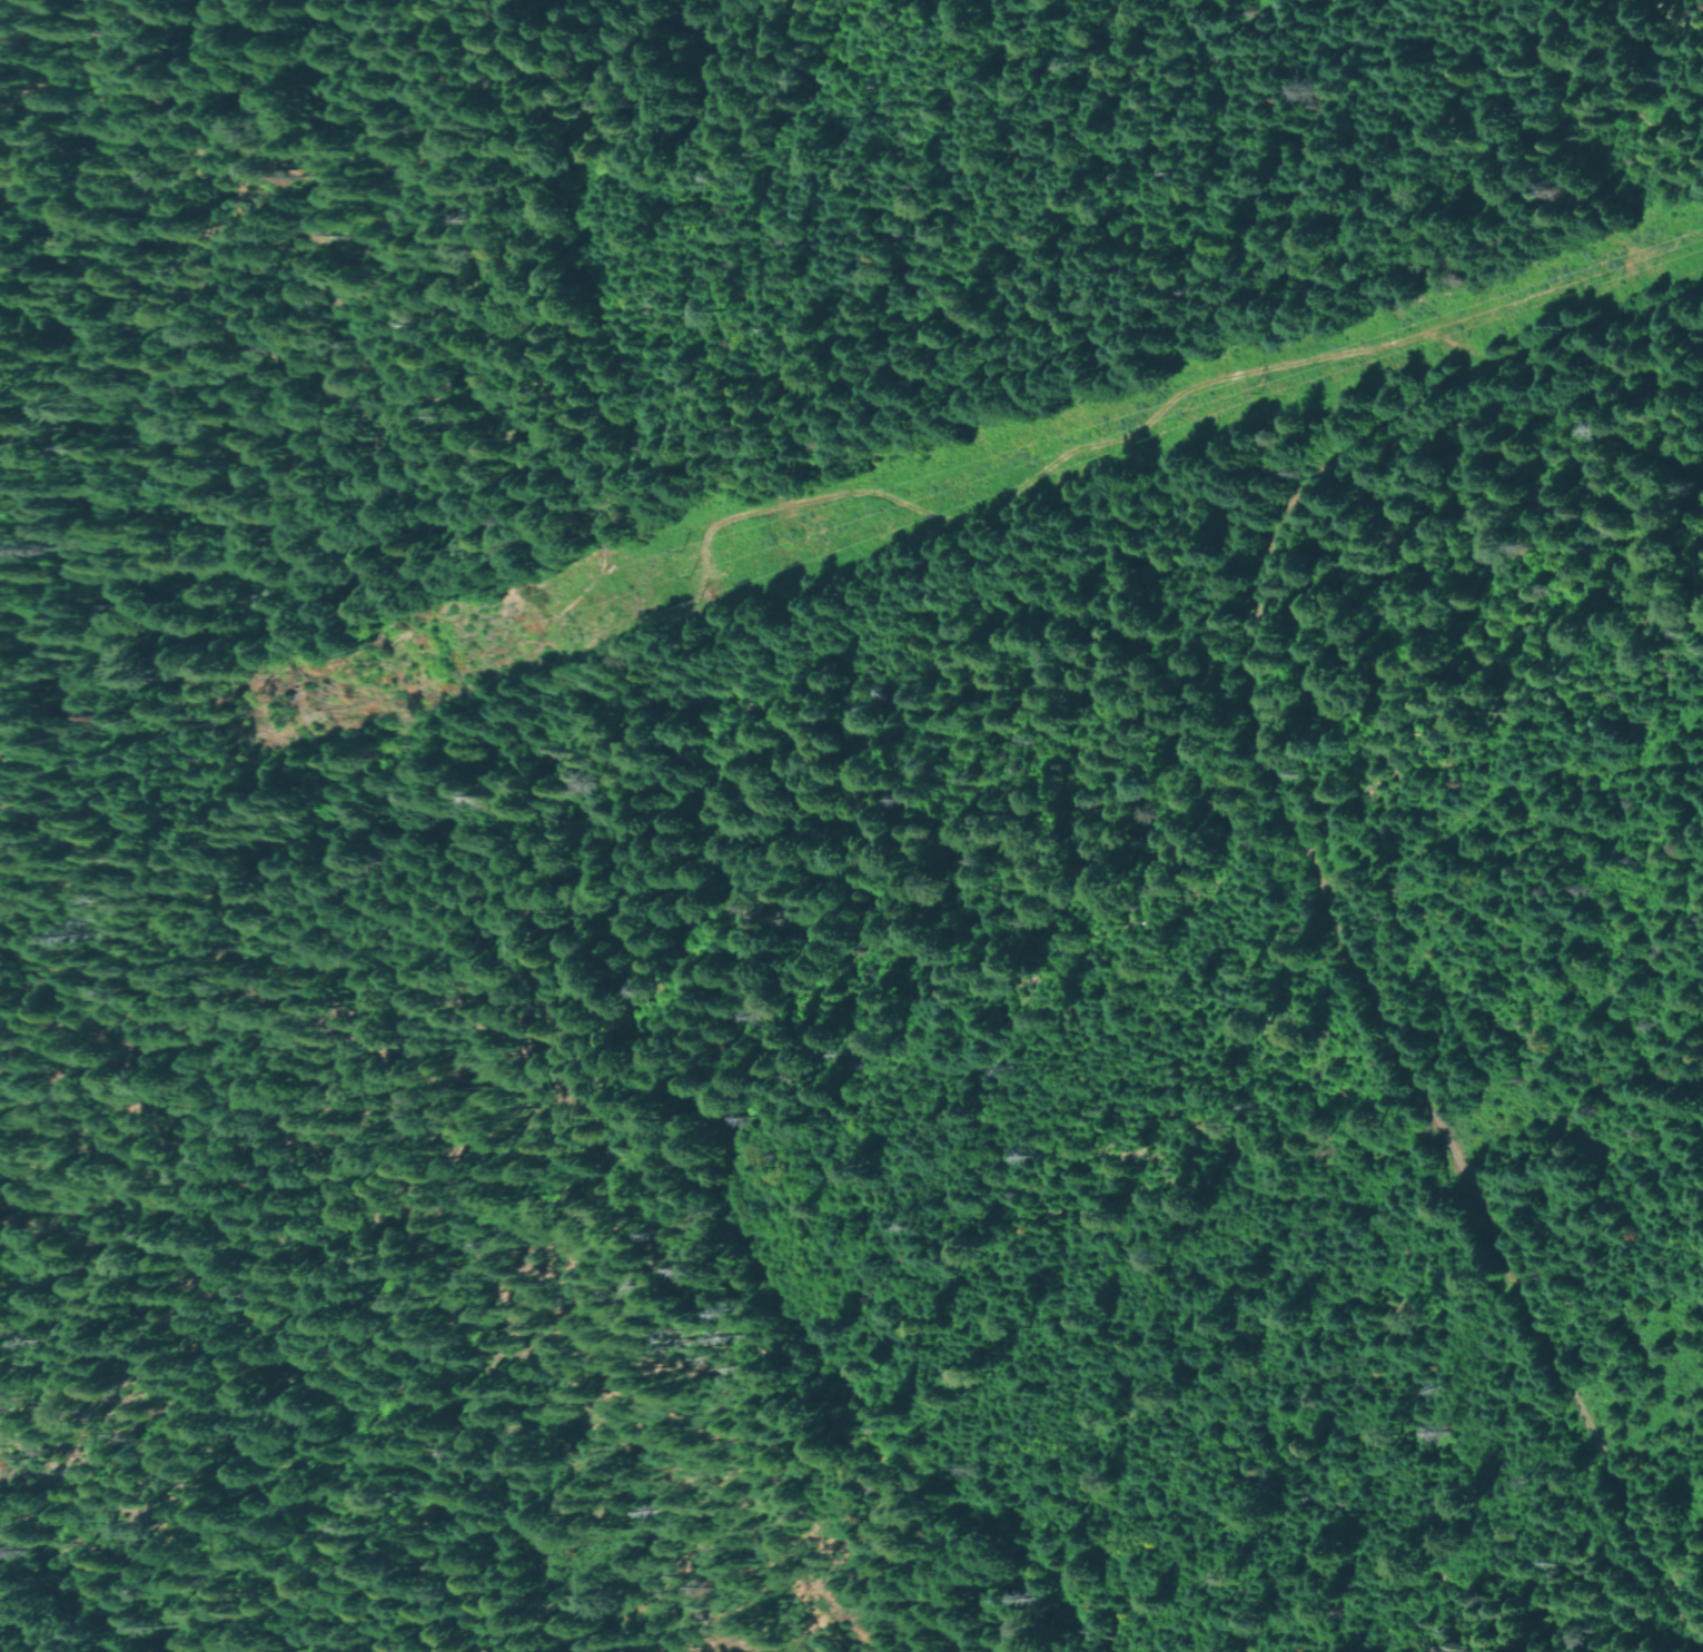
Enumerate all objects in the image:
road: (1315, 876)

